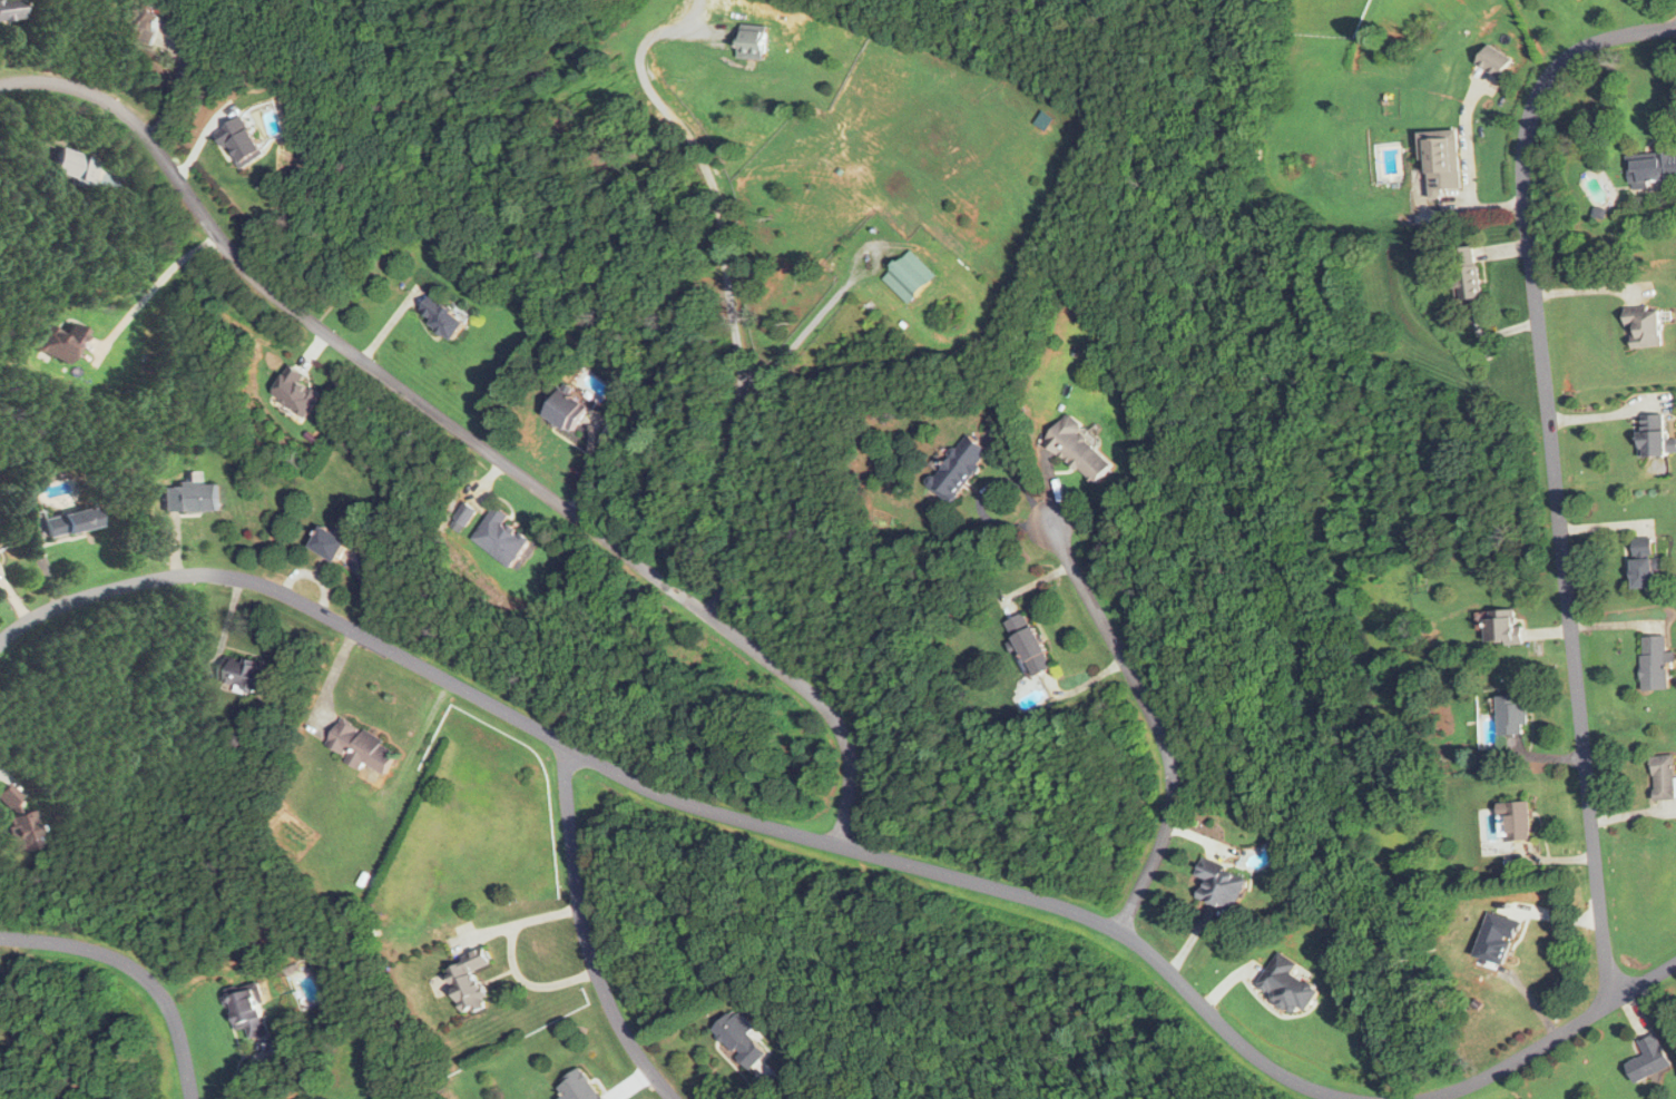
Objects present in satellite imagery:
building: (8, 9)
building: (140, 23)
building: (753, 41)
building: (1494, 61)
building: (241, 143)
building: (1442, 166)
building: (73, 167)
building: (1653, 169)
building: (1466, 272)
building: (910, 276)
road: (728, 300)
building: (442, 316)
building: (1646, 327)
road: (805, 330)
building: (295, 393)
building: (566, 411)
road: (461, 433)
building: (1655, 436)
building: (1079, 451)
road: (1552, 467)
building: (959, 469)
building: (189, 498)
building: (69, 523)
building: (499, 537)
building: (329, 544)
building: (1646, 563)
road: (286, 596)
building: (1503, 627)
building: (1029, 644)
building: (1656, 664)
building: (246, 671)
building: (1515, 716)
road: (1153, 719)
building: (361, 744)
building: (1666, 778)
building: (1517, 821)
road: (976, 882)
building: (1221, 884)
road: (576, 932)
road: (501, 963)
road: (136, 971)
building: (469, 978)
building: (1287, 985)
building: (246, 1010)
building: (739, 1037)
road: (1554, 1038)
building: (1649, 1058)
road: (1572, 1075)
building: (579, 1086)

